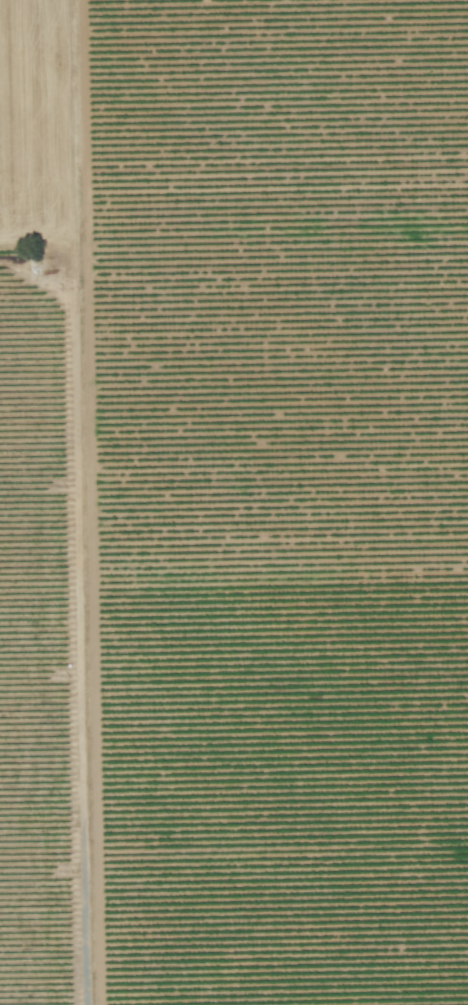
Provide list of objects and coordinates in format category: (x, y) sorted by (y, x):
road: (75, 502)

